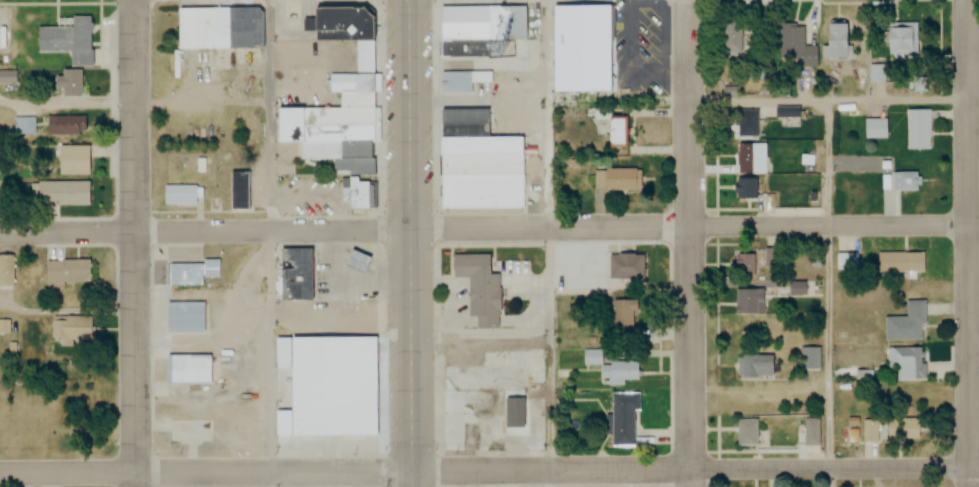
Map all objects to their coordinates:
building: (500, 24)
building: (200, 26)
building: (730, 37)
building: (68, 41)
building: (835, 41)
building: (901, 41)
building: (579, 46)
building: (795, 46)
building: (459, 49)
building: (362, 57)
building: (8, 77)
building: (453, 81)
building: (70, 84)
building: (353, 99)
road: (834, 101)
building: (786, 112)
building: (744, 123)
building: (23, 125)
building: (64, 126)
building: (875, 127)
building: (922, 128)
building: (615, 132)
building: (751, 158)
building: (74, 159)
building: (481, 171)
building: (616, 180)
building: (905, 181)
building: (746, 189)
building: (237, 190)
building: (63, 193)
building: (179, 194)
road: (695, 226)
road: (206, 231)
road: (138, 243)
road: (411, 243)
road: (690, 243)
road: (971, 243)
building: (355, 262)
building: (845, 262)
building: (900, 263)
building: (743, 265)
building: (291, 266)
building: (7, 271)
building: (67, 273)
building: (184, 274)
building: (477, 289)
road: (828, 294)
building: (748, 302)
building: (185, 316)
building: (624, 321)
building: (906, 324)
building: (5, 327)
building: (70, 328)
road: (975, 348)
building: (809, 359)
building: (906, 363)
building: (754, 366)
building: (613, 367)
building: (186, 368)
building: (329, 387)
building: (183, 416)
building: (622, 419)
building: (905, 429)
building: (871, 431)
building: (744, 432)
building: (810, 432)
road: (694, 467)
road: (205, 473)

